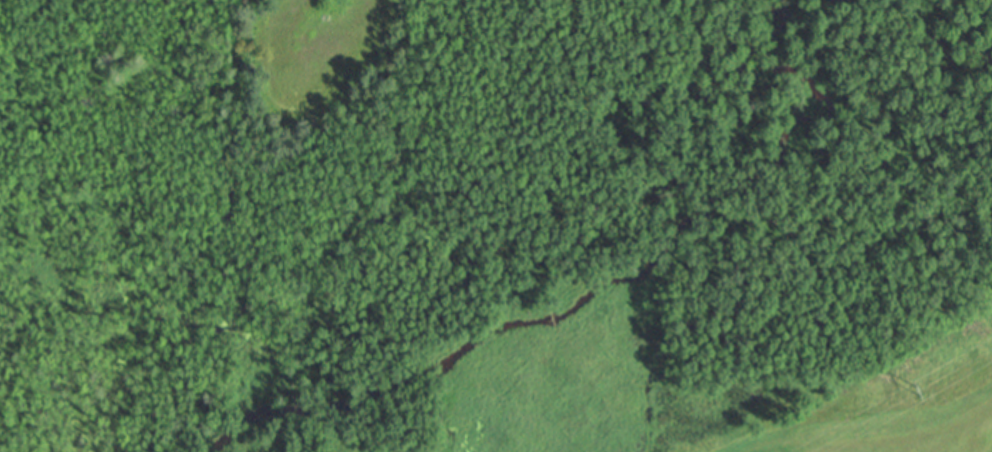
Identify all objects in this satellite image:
power tower: (915, 390)
park: (878, 392)

